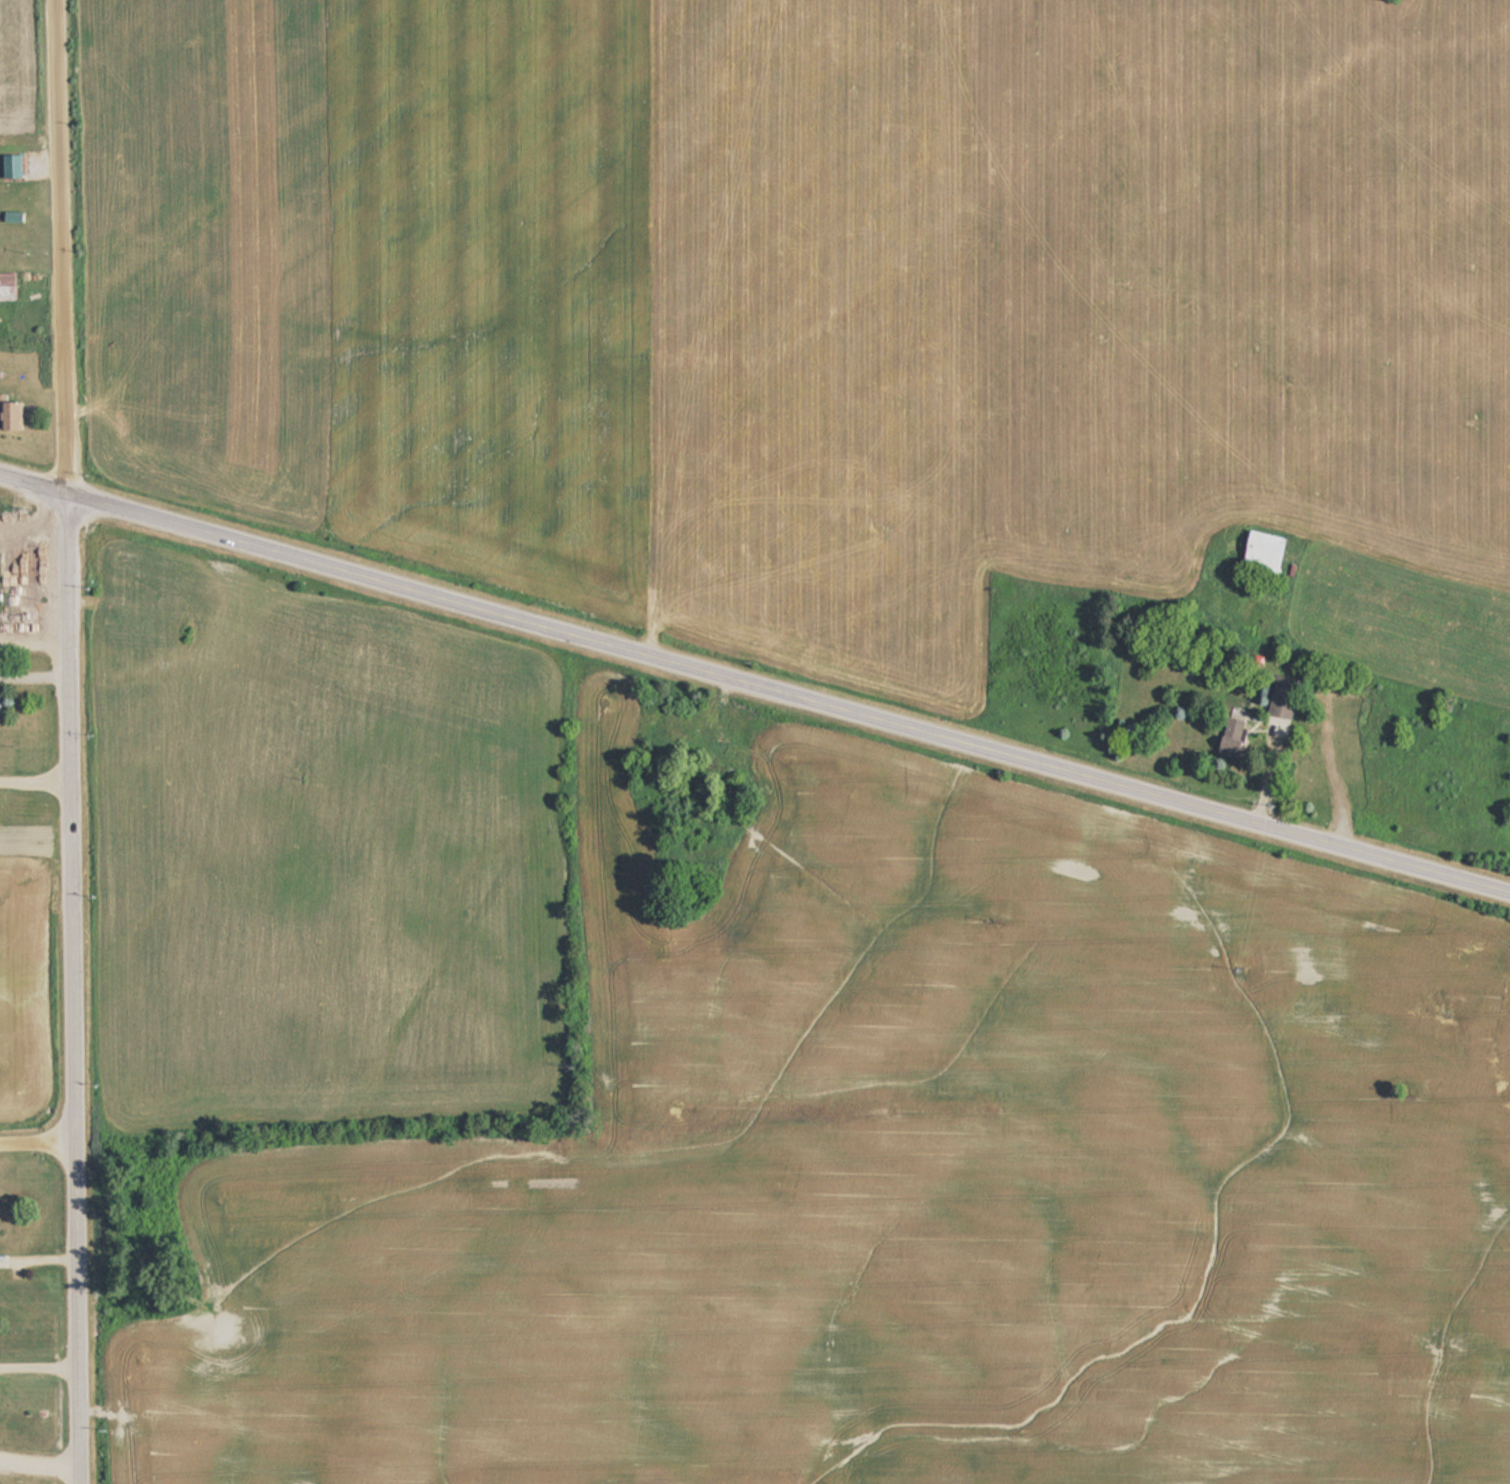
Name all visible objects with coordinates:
building: (878, 59)
building: (781, 84)
building: (9, 164)
road: (63, 246)
building: (5, 286)
building: (8, 413)
building: (770, 415)
building: (1259, 551)
road: (754, 683)
building: (1280, 696)
building: (1229, 737)
road: (73, 988)
road: (38, 1143)

